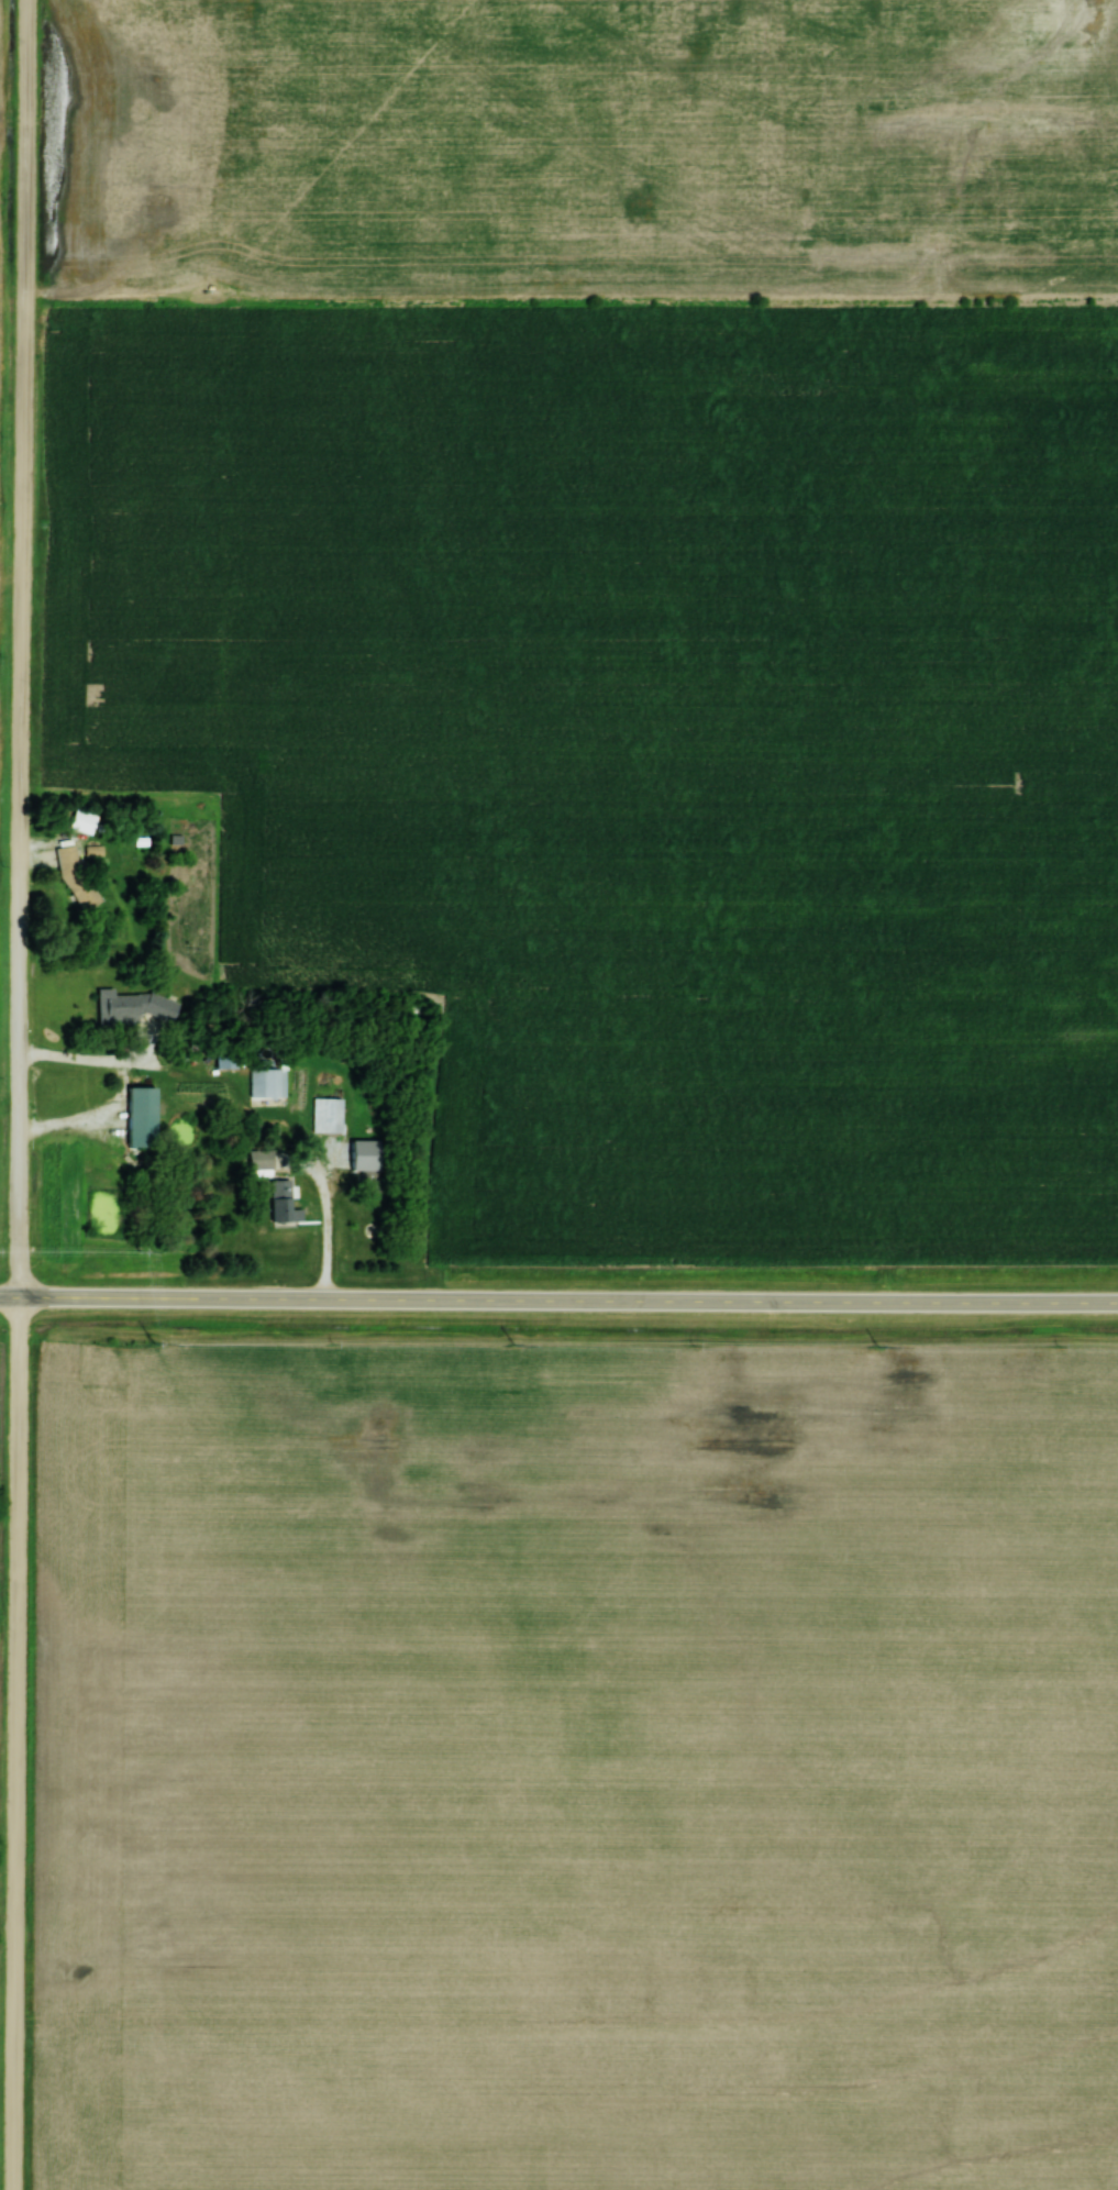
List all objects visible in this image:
building: (82, 820)
building: (132, 1006)
road: (96, 1057)
building: (226, 1059)
building: (267, 1083)
road: (21, 1095)
building: (328, 1115)
building: (142, 1117)
building: (261, 1159)
building: (369, 1179)
building: (283, 1201)
road: (326, 1225)
road: (9, 1296)
road: (567, 1299)

